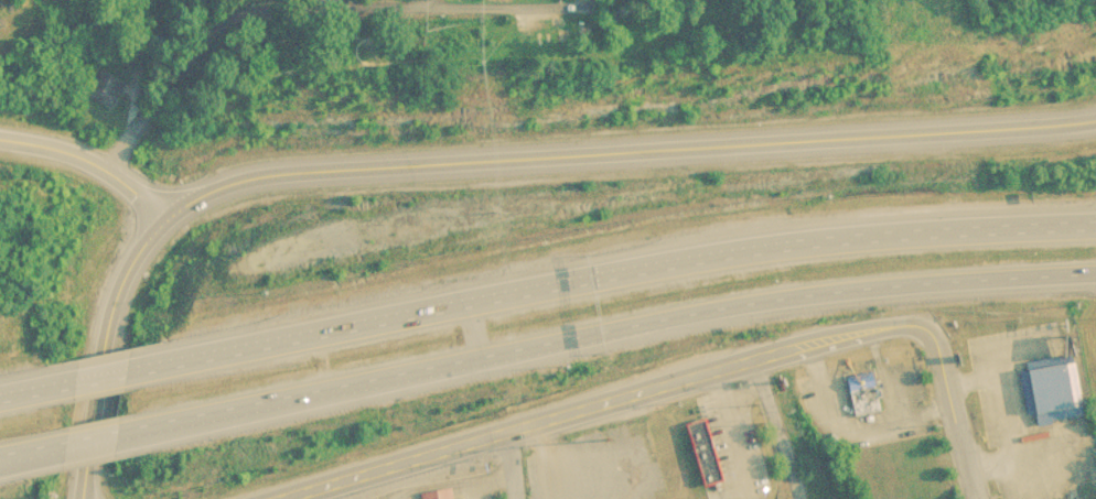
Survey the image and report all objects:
road: (514, 7)
building: (106, 87)
road: (626, 148)
road: (90, 160)
road: (614, 273)
road: (474, 328)
road: (608, 329)
road: (105, 348)
road: (1025, 352)
road: (94, 378)
road: (24, 392)
building: (1054, 393)
building: (870, 395)
road: (595, 404)
road: (954, 408)
road: (1011, 410)
road: (928, 414)
road: (731, 427)
road: (783, 427)
road: (874, 427)
road: (92, 436)
road: (28, 447)
building: (710, 456)
road: (514, 465)
building: (440, 495)

